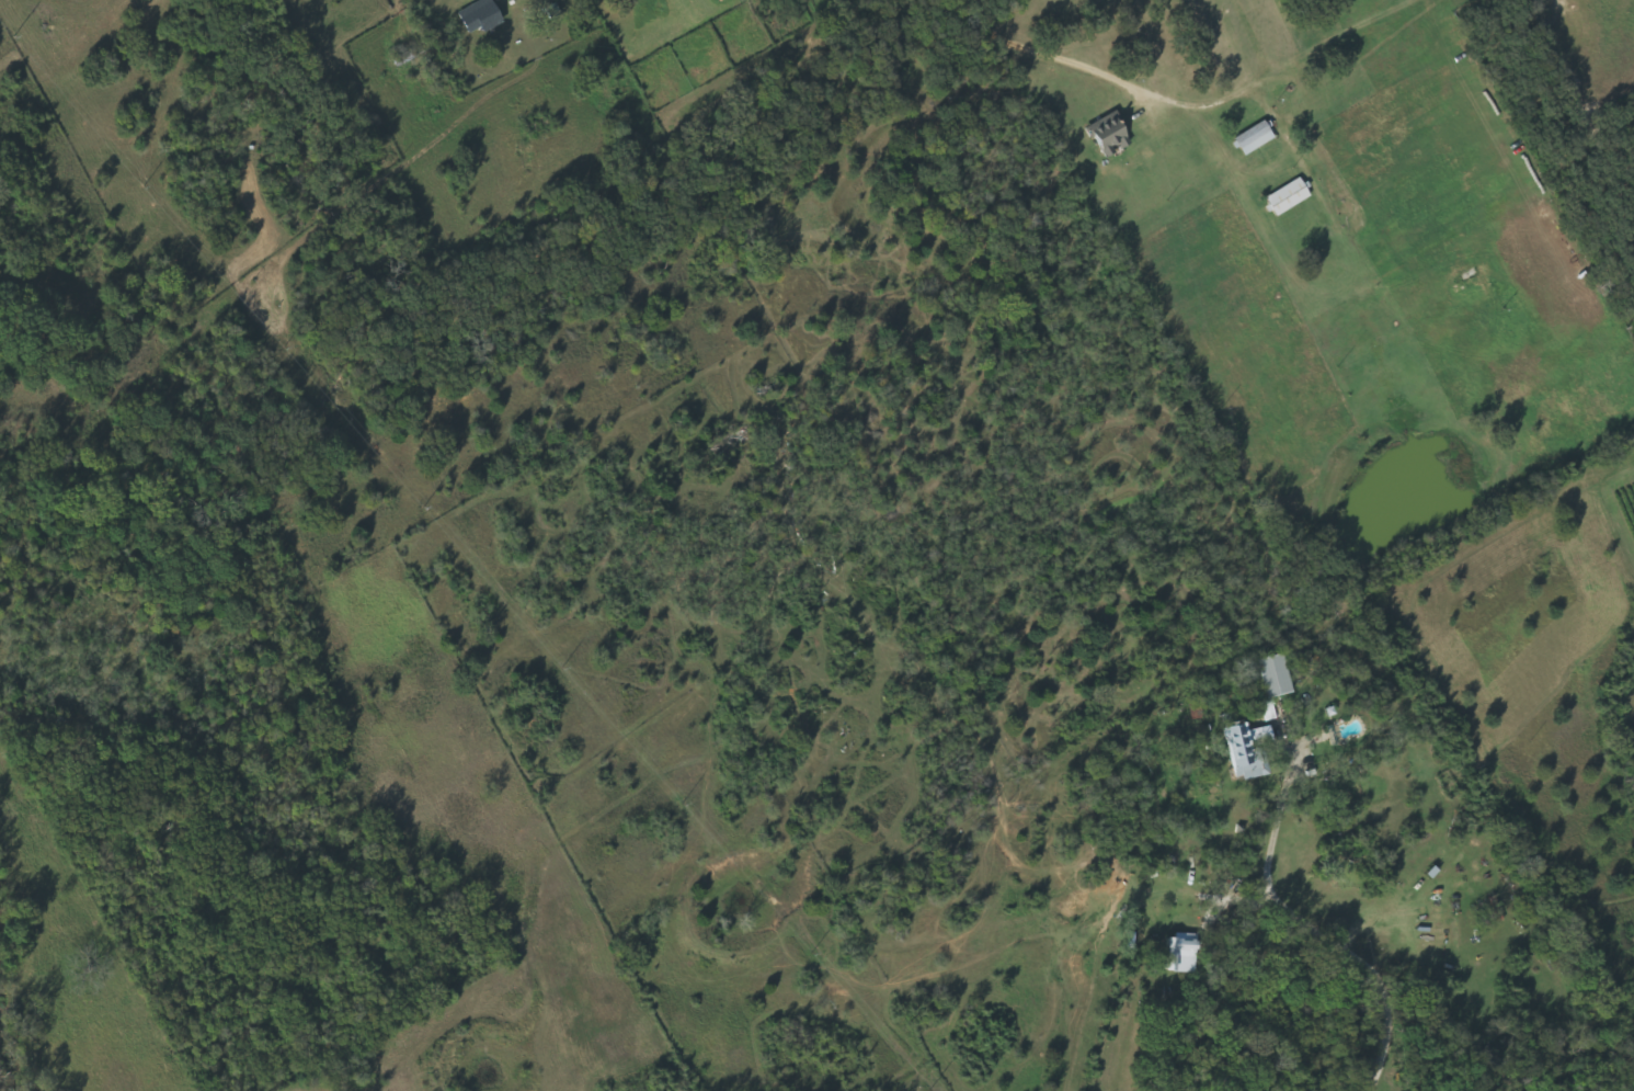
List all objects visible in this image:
building: (484, 20)
building: (1105, 136)
building: (1250, 139)
building: (1286, 197)
road: (444, 404)
building: (1272, 677)
building: (1269, 709)
building: (1244, 751)
building: (1129, 941)
building: (1175, 954)

